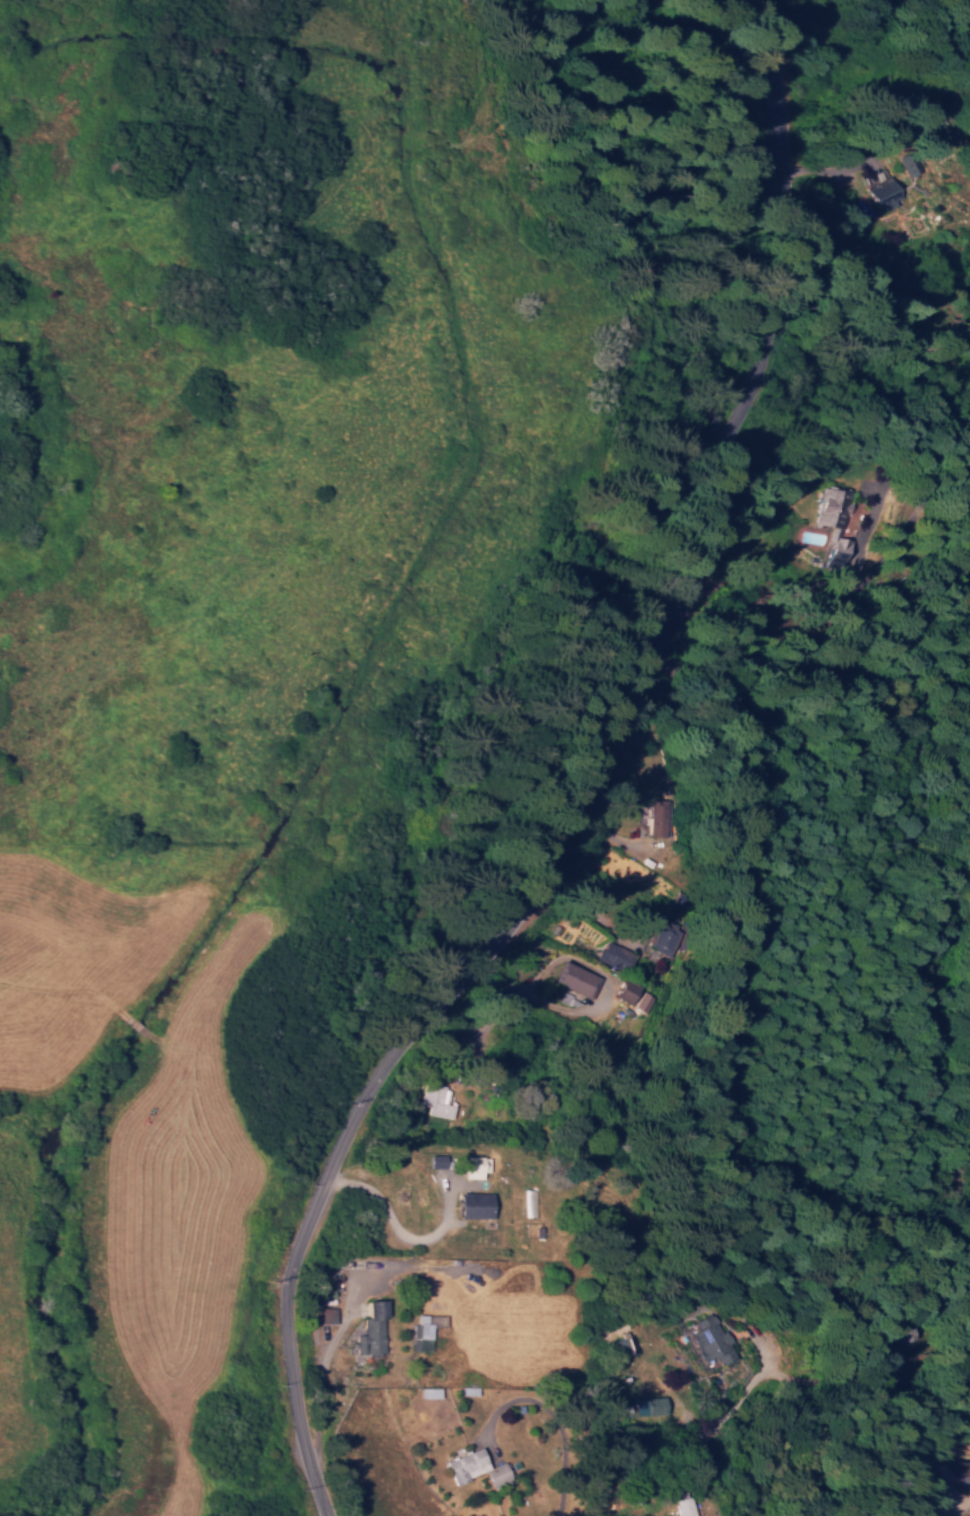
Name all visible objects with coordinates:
building: (909, 162)
building: (840, 524)
road: (578, 774)
building: (658, 823)
building: (616, 955)
building: (625, 991)
building: (646, 1001)
building: (475, 1166)
building: (473, 1204)
building: (427, 1324)
building: (370, 1328)
building: (712, 1340)
building: (618, 1346)
road: (958, 1389)
building: (647, 1405)
building: (473, 1466)
building: (686, 1507)
road: (961, 1513)

